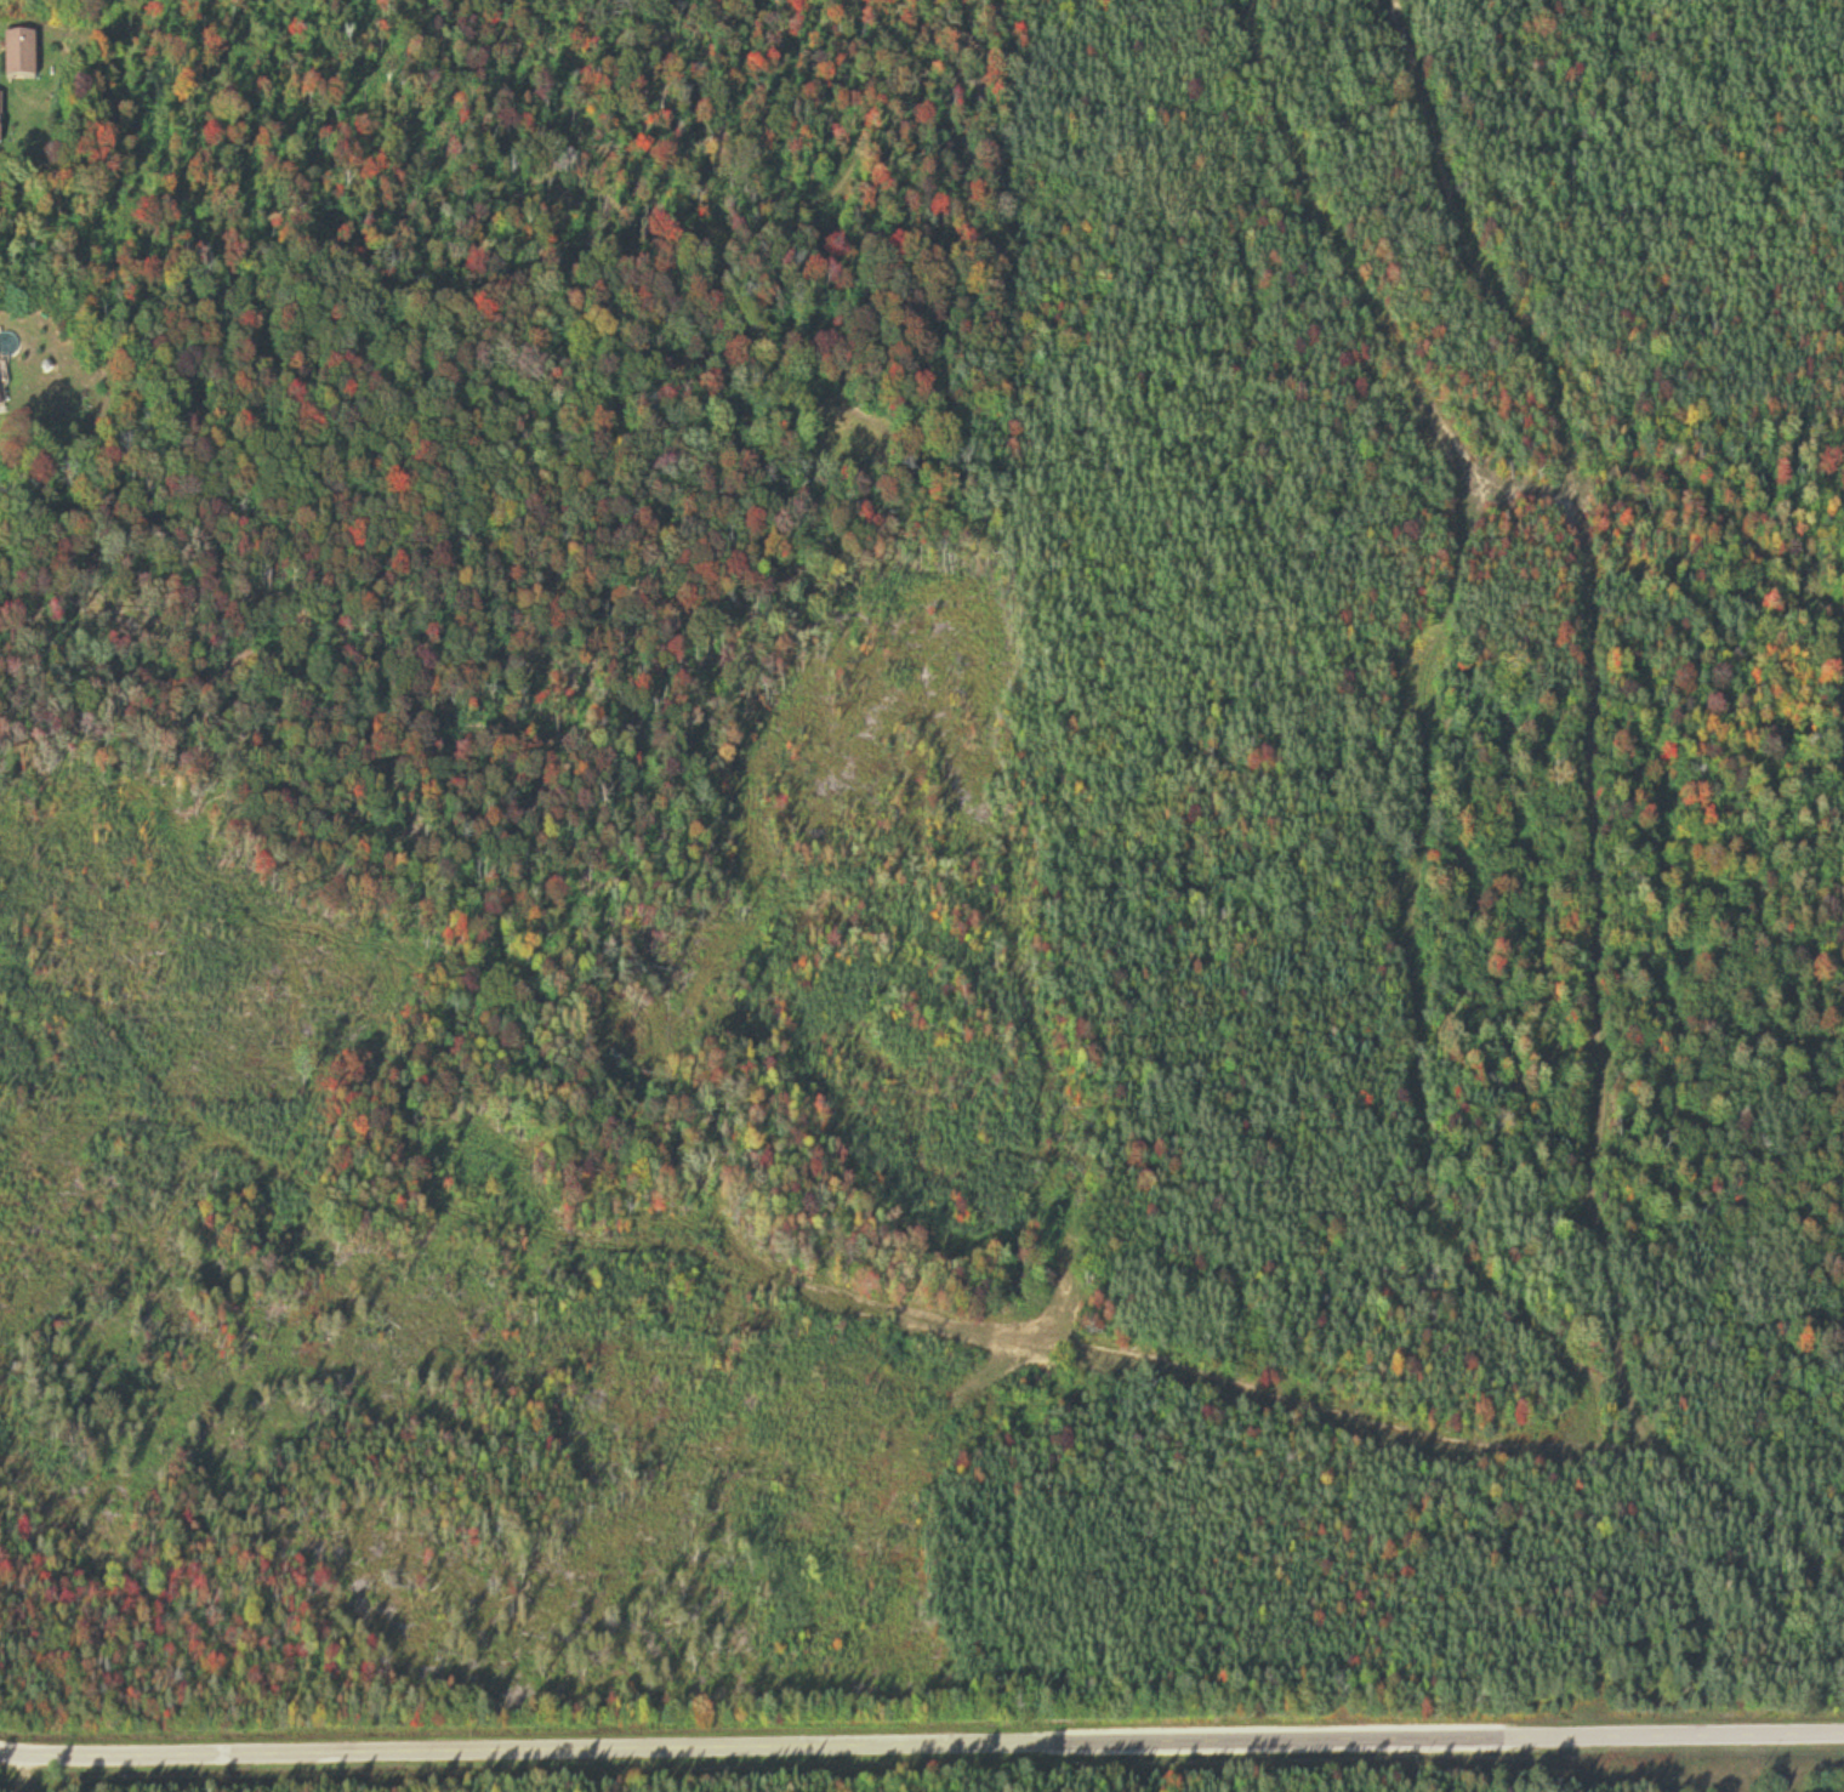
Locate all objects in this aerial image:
building: (21, 58)
building: (0, 120)
building: (0, 405)
road: (921, 1748)

